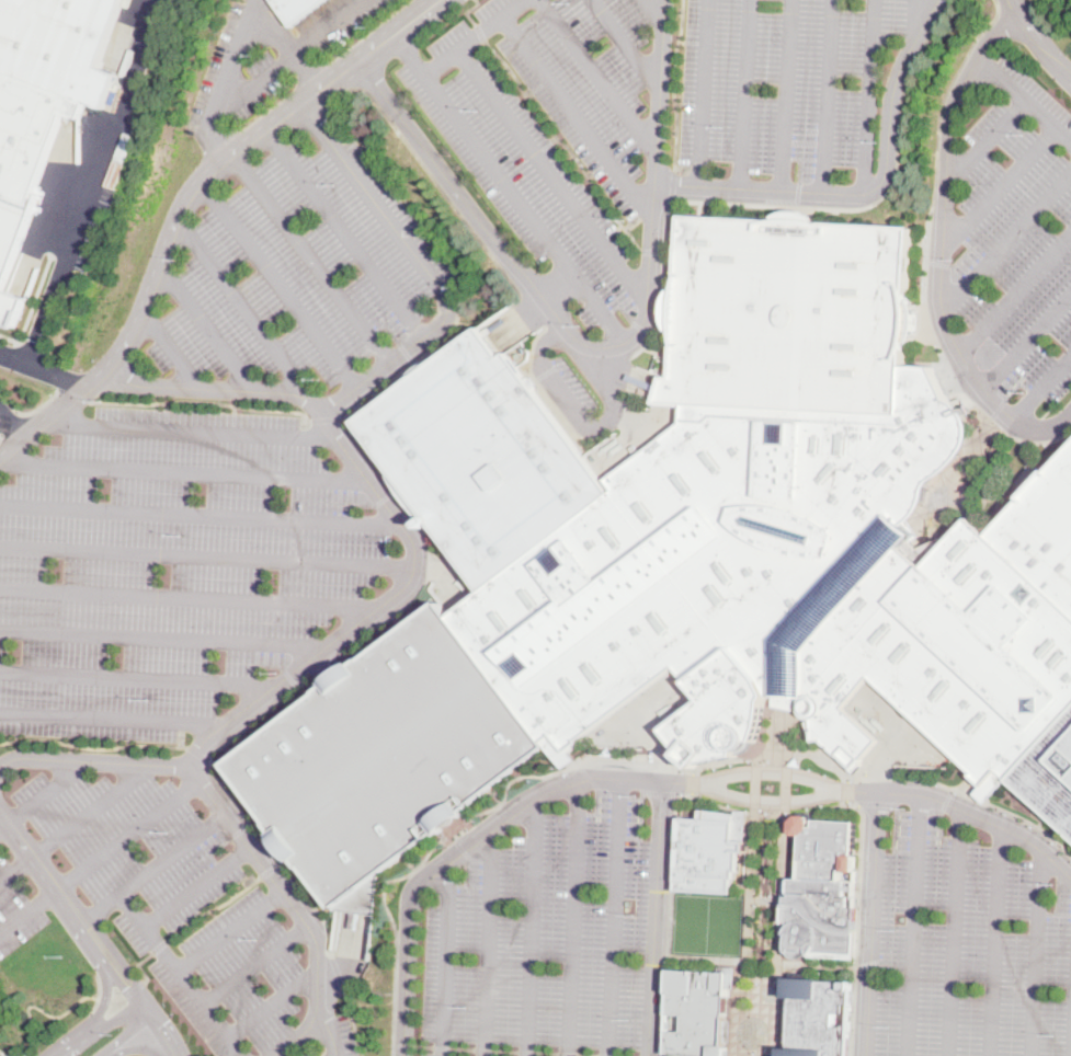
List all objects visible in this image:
building: (295, 8)
road: (468, 11)
road: (652, 12)
road: (911, 22)
road: (480, 32)
road: (471, 37)
road: (1037, 41)
building: (58, 43)
road: (626, 43)
road: (285, 45)
road: (235, 49)
road: (293, 50)
road: (597, 77)
parking lot: (787, 80)
road: (673, 84)
road: (703, 94)
road: (742, 95)
road: (785, 96)
road: (869, 96)
road: (830, 97)
road: (334, 100)
road: (1023, 101)
road: (576, 117)
road: (215, 123)
road: (936, 141)
road: (982, 141)
road: (566, 144)
parking lot: (517, 163)
building: (23, 165)
road: (550, 174)
road: (93, 184)
road: (506, 185)
road: (673, 188)
road: (995, 188)
road: (371, 193)
road: (867, 193)
parking lot: (99, 194)
road: (184, 203)
road: (804, 206)
road: (346, 233)
parking lot: (1019, 234)
road: (1005, 239)
road: (939, 248)
road: (656, 252)
road: (312, 260)
parking lot: (300, 269)
road: (283, 285)
road: (1014, 290)
road: (32, 305)
road: (241, 305)
road: (207, 330)
road: (1026, 338)
road: (594, 347)
road: (170, 348)
road: (405, 360)
road: (39, 372)
road: (612, 381)
road: (1040, 386)
road: (561, 387)
road: (72, 394)
road: (202, 400)
road: (37, 406)
road: (327, 418)
road: (195, 428)
road: (185, 471)
road: (203, 514)
road: (207, 556)
building: (691, 562)
parking lot: (169, 569)
road: (193, 598)
road: (169, 639)
road: (332, 652)
road: (144, 677)
building: (783, 702)
road: (116, 719)
road: (93, 747)
building: (562, 750)
road: (197, 753)
road: (92, 760)
road: (757, 773)
road: (673, 782)
building: (995, 787)
road: (45, 792)
road: (755, 799)
road: (947, 800)
road: (991, 802)
road: (958, 810)
road: (88, 813)
road: (2, 826)
road: (128, 836)
building: (709, 851)
road: (463, 857)
road: (152, 868)
road: (14, 870)
building: (822, 893)
road: (181, 900)
parking lot: (176, 902)
road: (315, 906)
road: (212, 907)
road: (69, 908)
parking lot: (18, 910)
road: (27, 912)
road: (613, 917)
road: (572, 918)
road: (654, 918)
park: (707, 922)
road: (870, 923)
road: (912, 926)
road: (529, 929)
road: (396, 931)
road: (953, 932)
parking lot: (545, 936)
road: (993, 941)
road: (159, 945)
road: (485, 945)
road: (208, 946)
parking lot: (970, 949)
road: (1038, 954)
road: (445, 962)
road: (139, 964)
road: (255, 964)
road: (337, 972)
road: (104, 985)
road: (134, 987)
road: (111, 996)
road: (274, 1002)
road: (39, 1005)
road: (145, 1006)
road: (210, 1012)
building: (699, 1012)
road: (117, 1013)
building: (818, 1017)
road: (352, 1022)
road: (127, 1032)
road: (329, 1032)
road: (166, 1033)
parking lot: (344, 1034)
road: (77, 1042)
road: (134, 1047)
road: (515, 1051)
road: (4, 1053)
road: (100, 1053)

